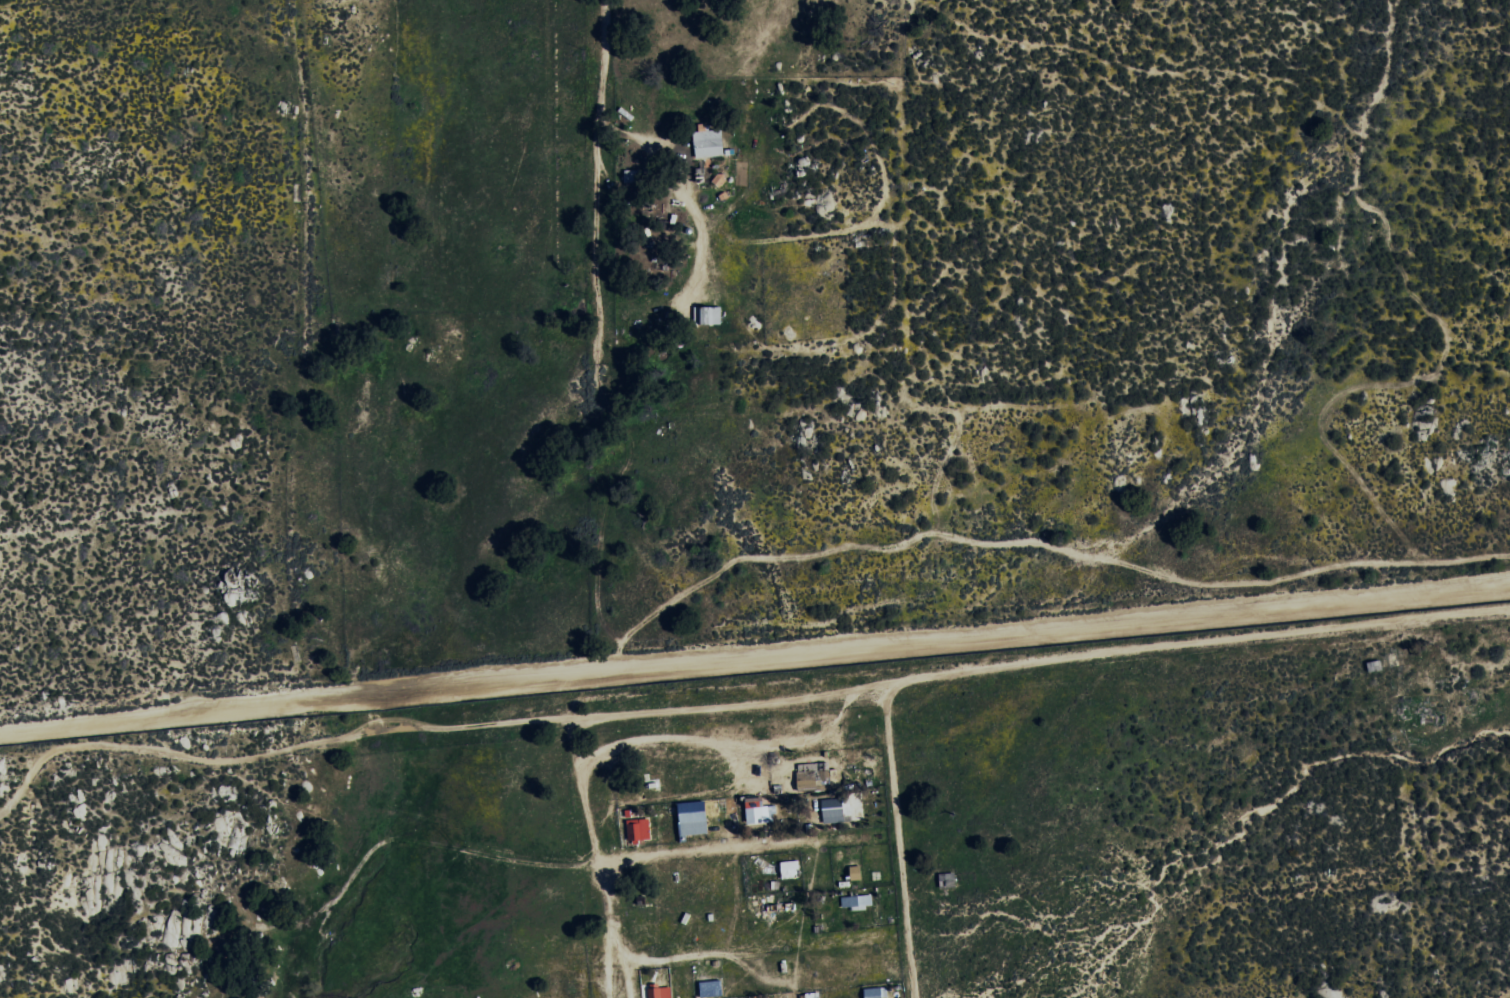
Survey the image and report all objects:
building: (708, 143)
building: (719, 179)
road: (401, 247)
building: (711, 315)
road: (754, 653)
road: (738, 705)
building: (806, 779)
building: (833, 809)
building: (756, 810)
building: (692, 811)
building: (639, 830)
road: (897, 841)
road: (731, 849)
road: (597, 858)
building: (790, 869)
building: (856, 872)
building: (857, 902)
road: (745, 950)
building: (663, 992)
building: (874, 992)

